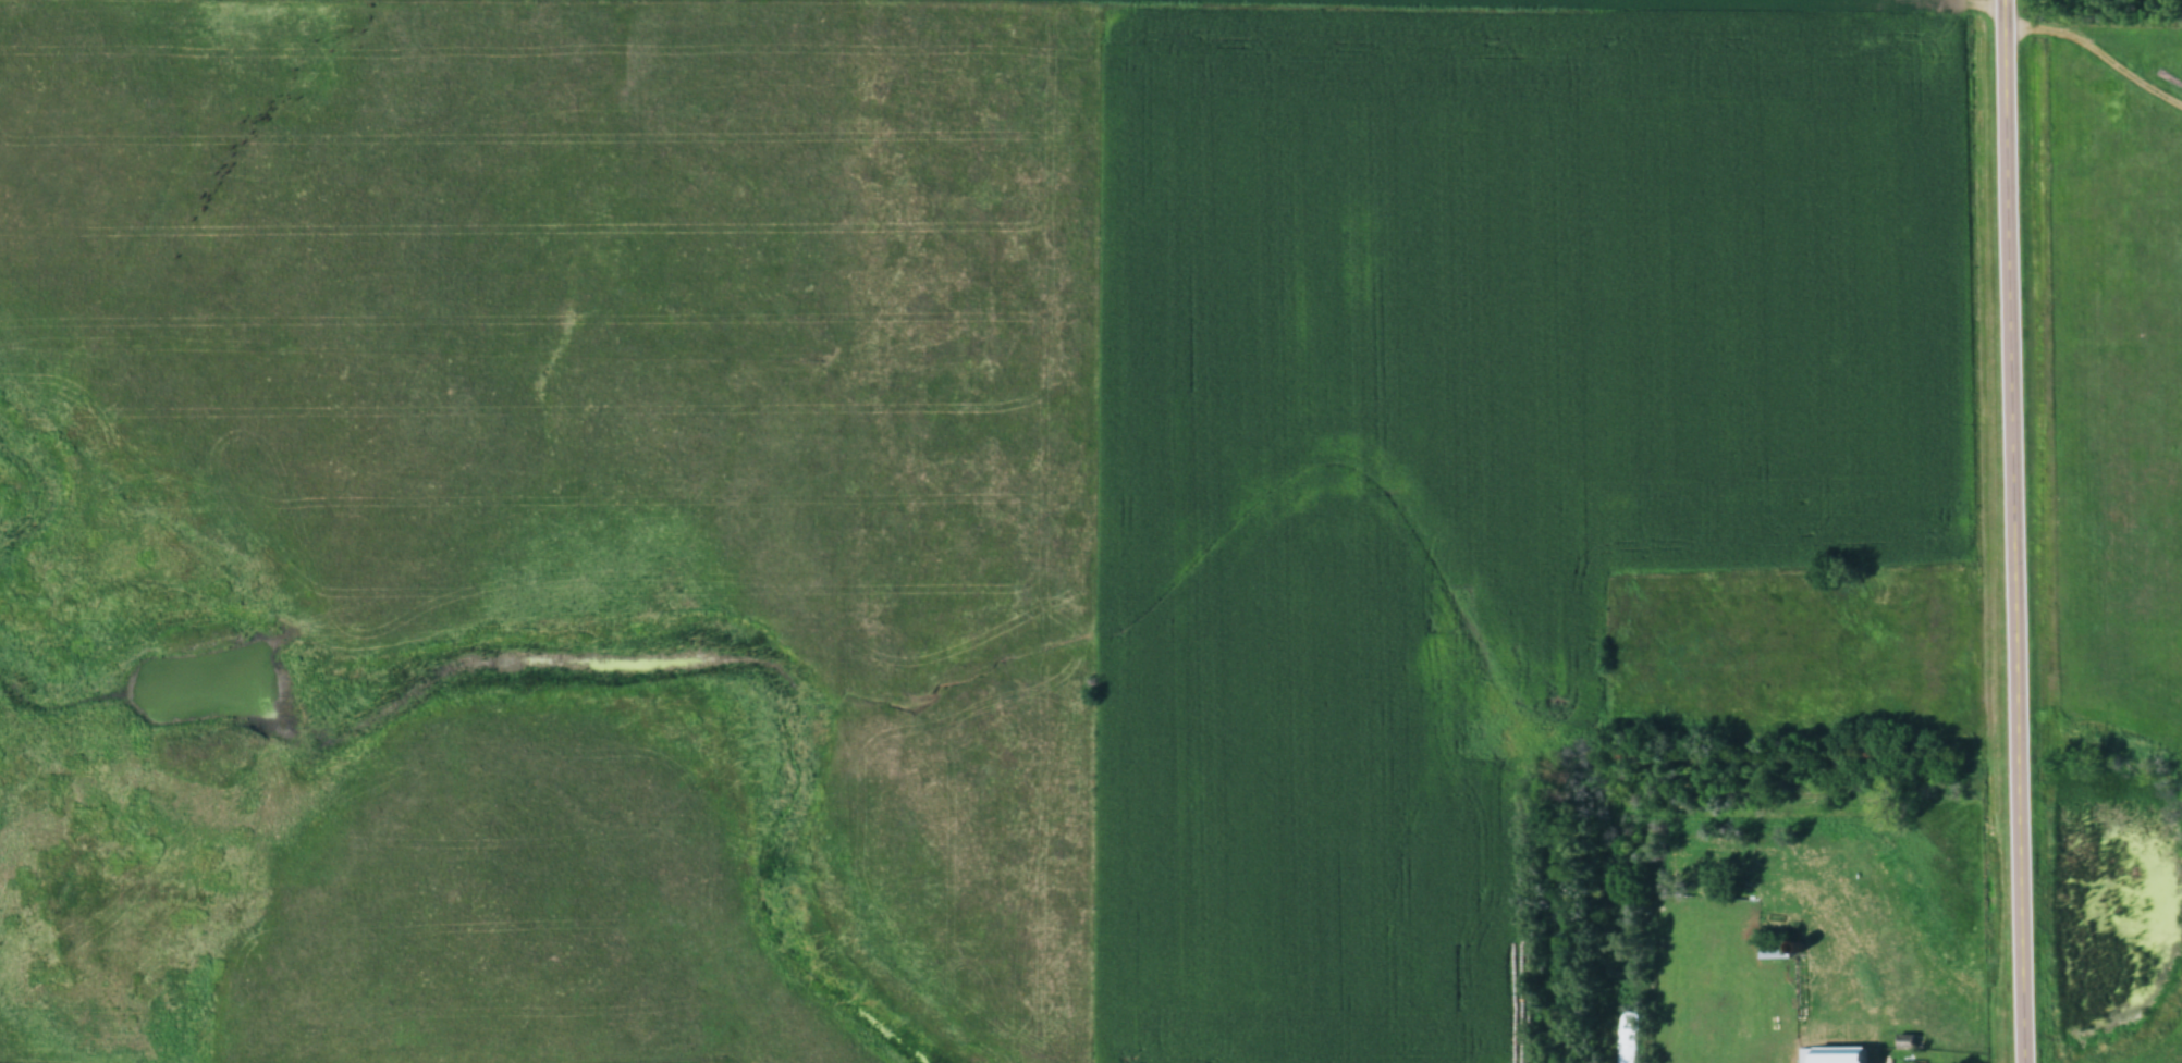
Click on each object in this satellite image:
road: (2014, 531)
building: (1776, 952)
building: (1812, 1056)

